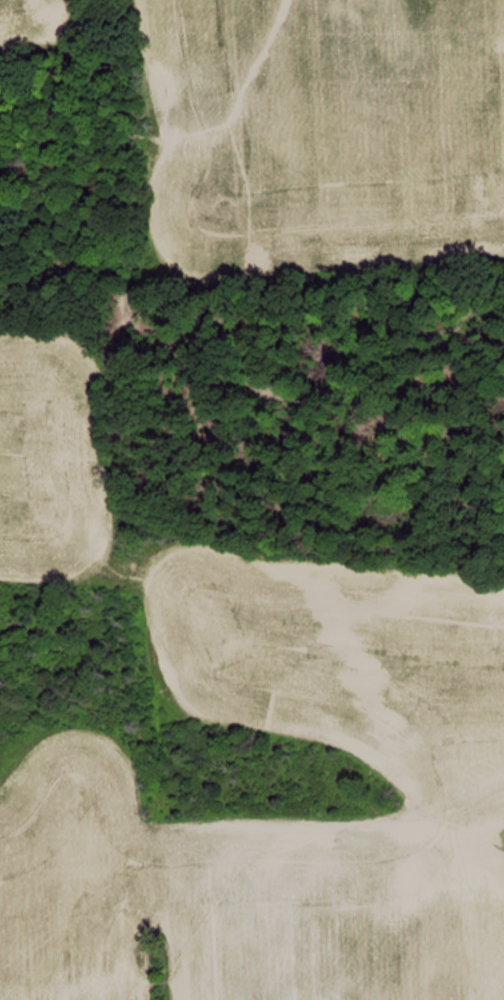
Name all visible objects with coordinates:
road: (101, 405)

